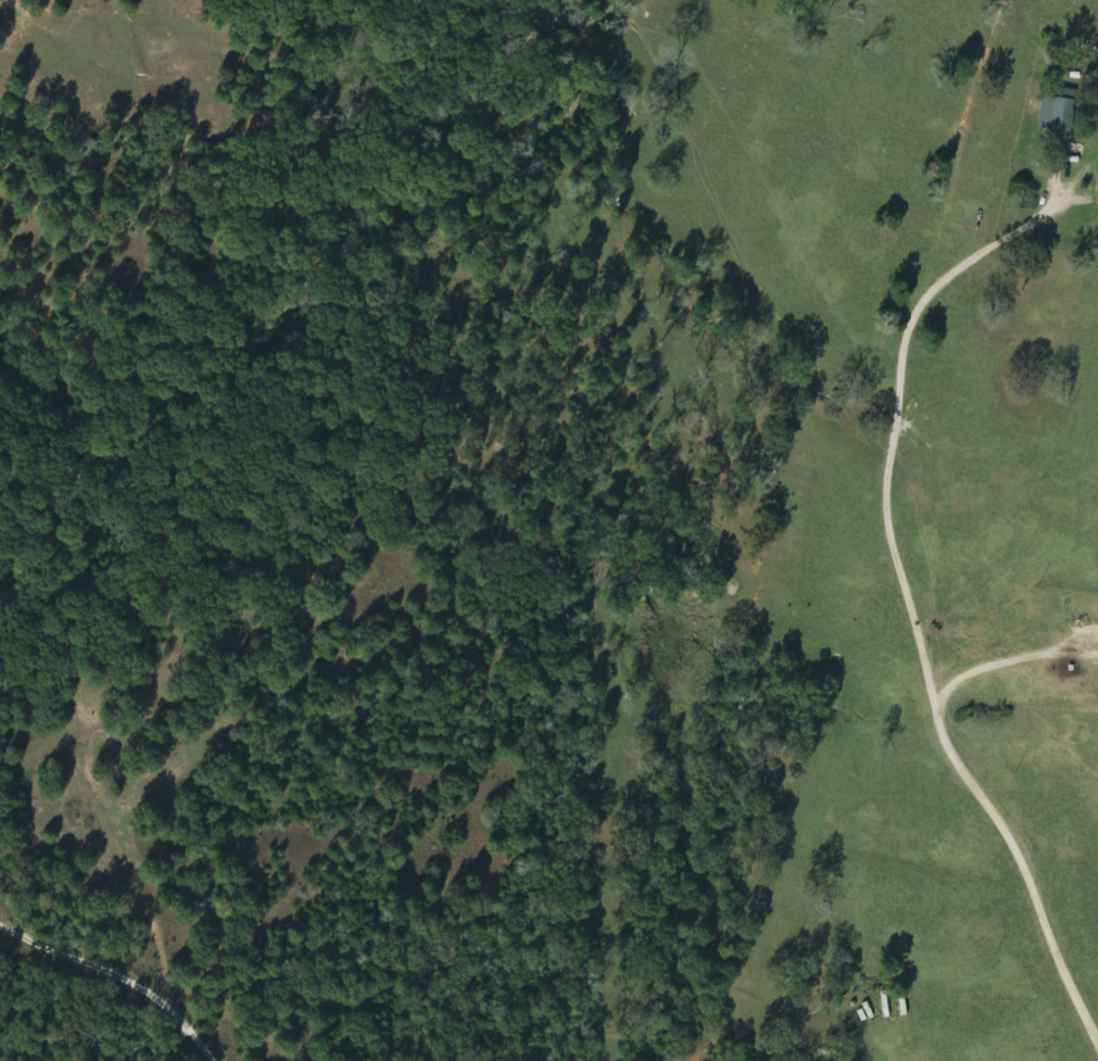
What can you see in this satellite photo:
building: (1058, 112)
road: (1025, 877)

